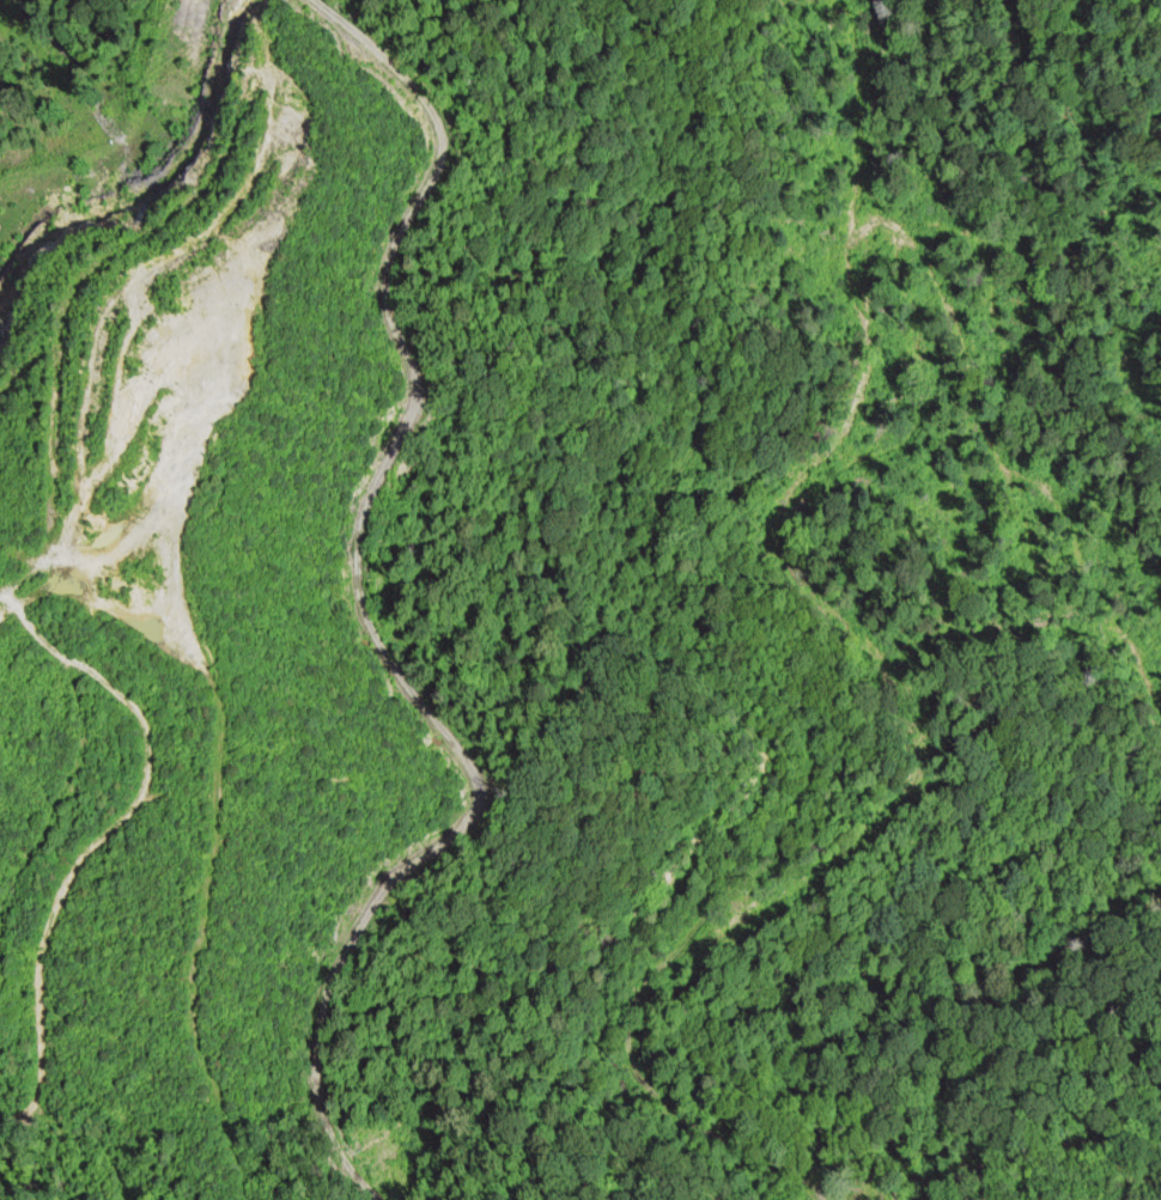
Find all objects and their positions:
road: (361, 617)

